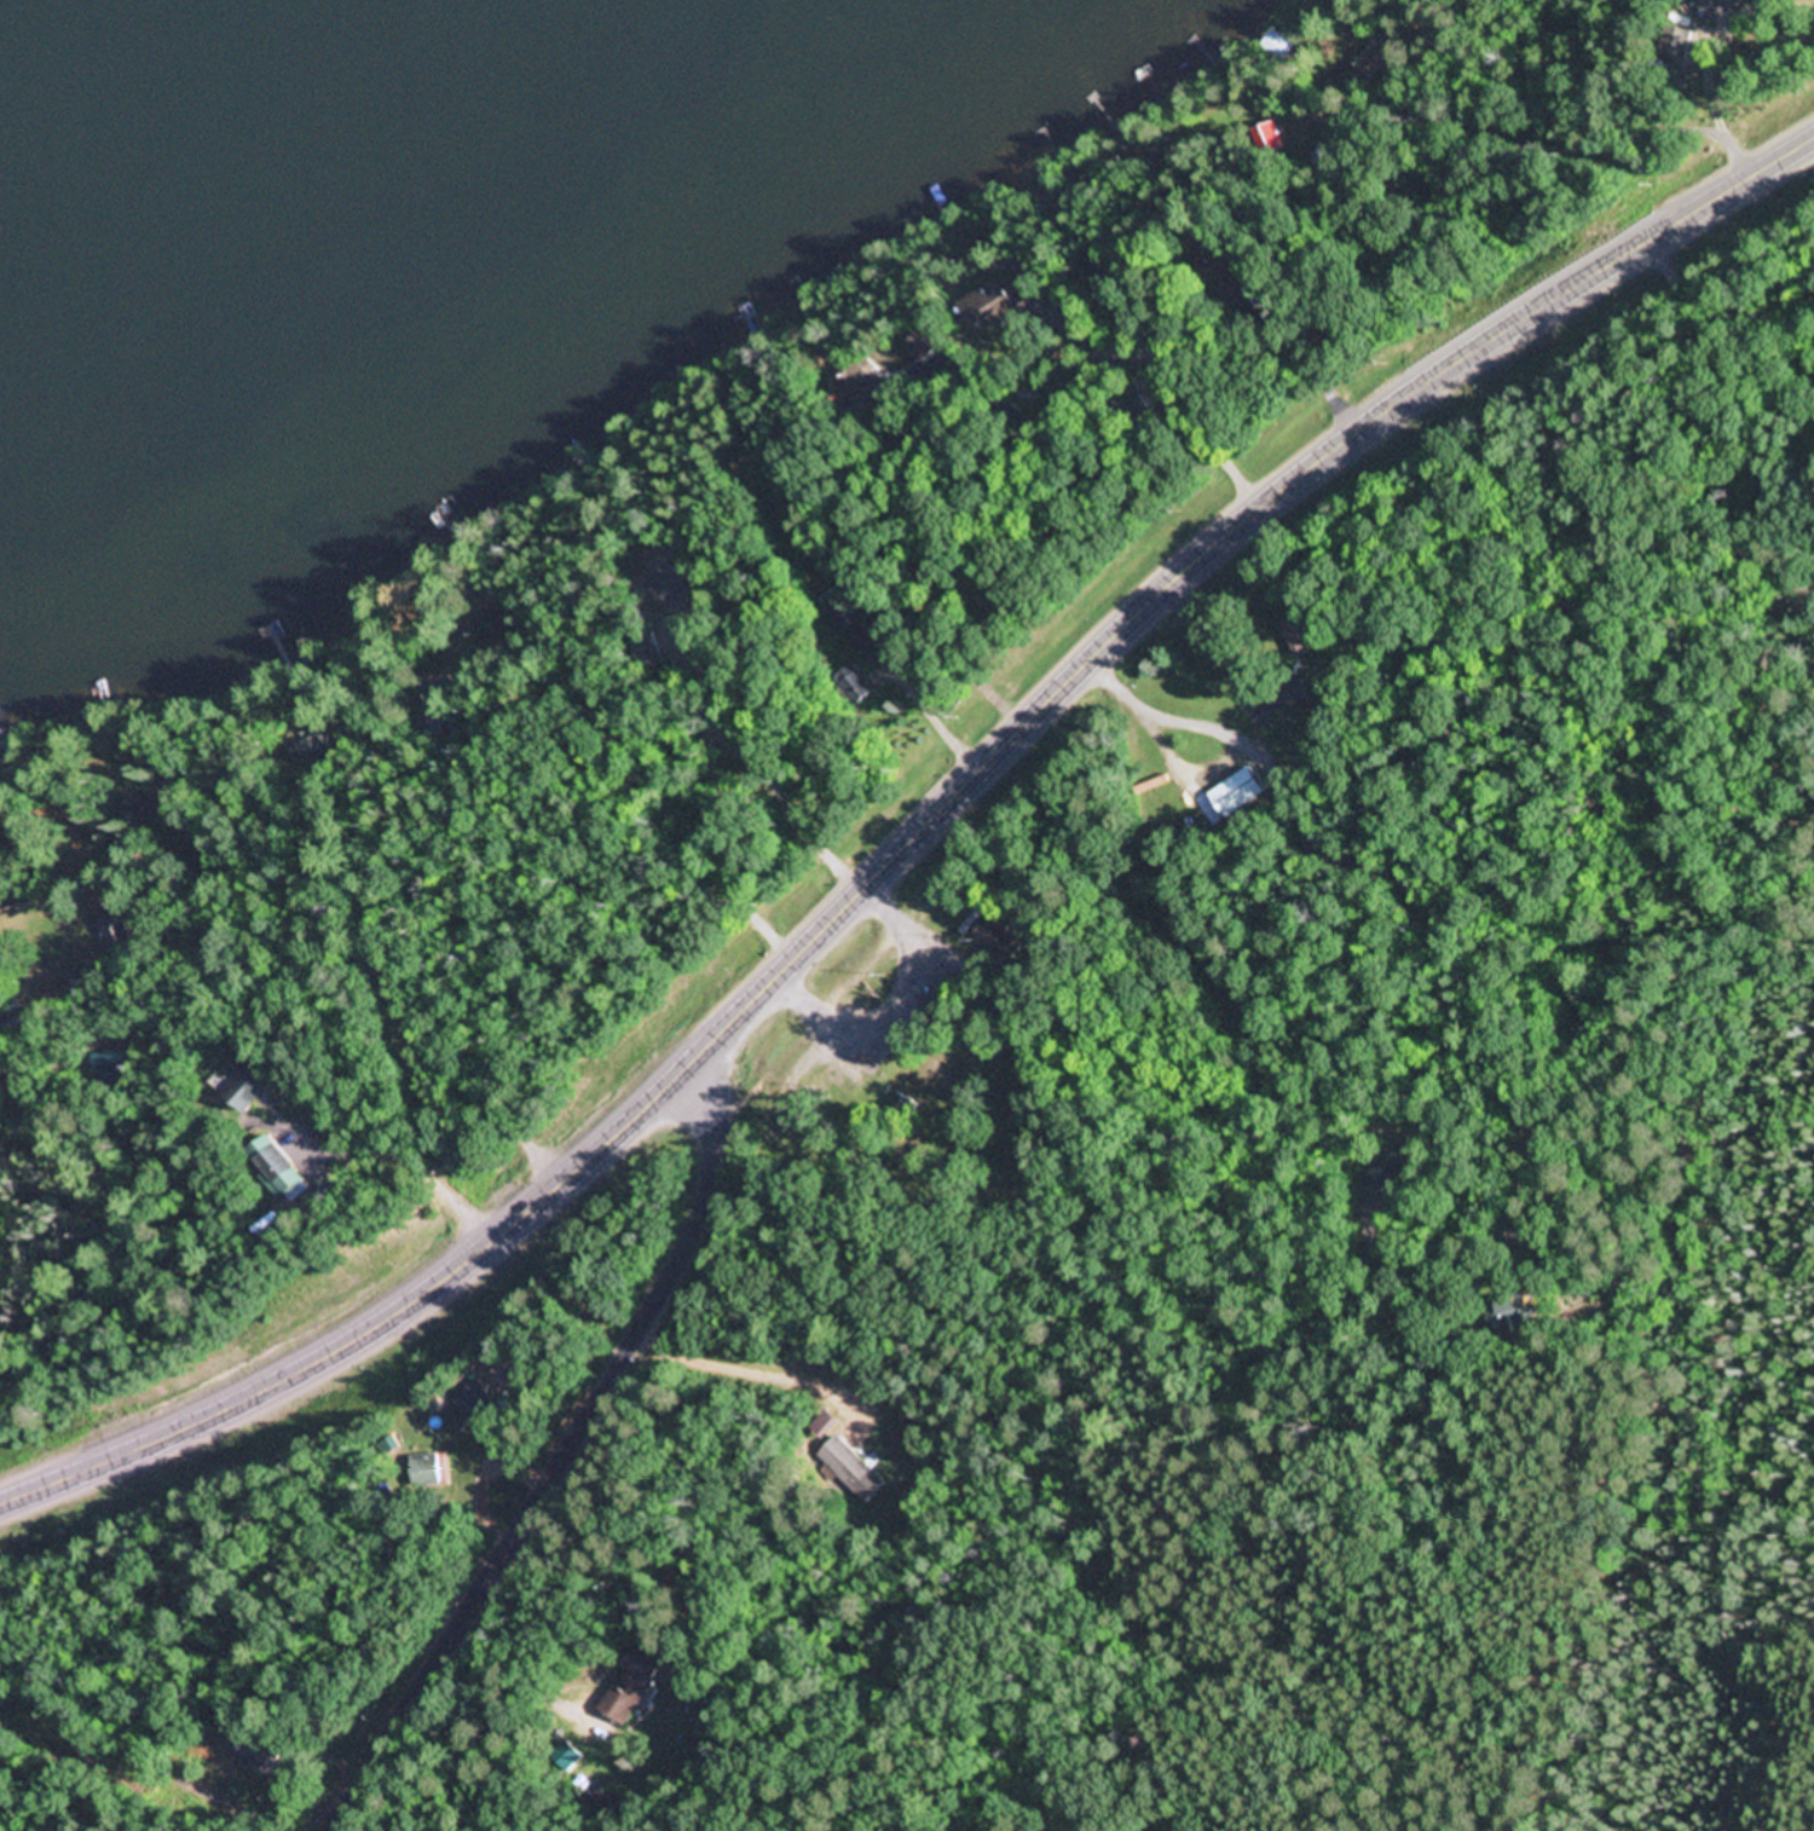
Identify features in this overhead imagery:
building: (1718, 7)
building: (1277, 46)
building: (1377, 58)
road: (1486, 123)
building: (1266, 140)
building: (1325, 163)
building: (1004, 302)
road: (1154, 371)
building: (860, 380)
building: (1296, 635)
building: (862, 639)
building: (851, 686)
building: (308, 752)
road: (897, 772)
building: (1234, 796)
building: (146, 810)
road: (914, 834)
road: (919, 893)
road: (13, 914)
building: (111, 932)
building: (998, 938)
building: (110, 1064)
building: (909, 1076)
building: (247, 1085)
building: (275, 1166)
building: (1383, 1174)
building: (1509, 1317)
building: (473, 1399)
building: (824, 1423)
road: (564, 1455)
building: (424, 1469)
building: (850, 1469)
building: (631, 1685)
building: (256, 1749)
building: (565, 1760)

